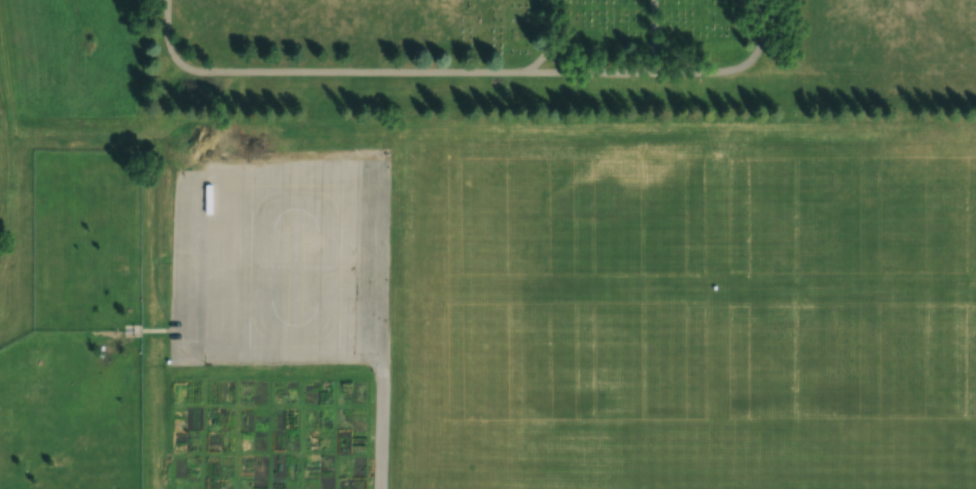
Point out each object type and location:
road: (552, 22)
road: (655, 35)
park: (559, 57)
road: (301, 67)
road: (735, 67)
road: (513, 70)
road: (596, 72)
building: (189, 193)
park: (685, 251)
parking lot: (281, 261)
park: (523, 290)
road: (384, 326)
park: (685, 422)
park: (806, 422)
park: (929, 422)
crop: (270, 434)

